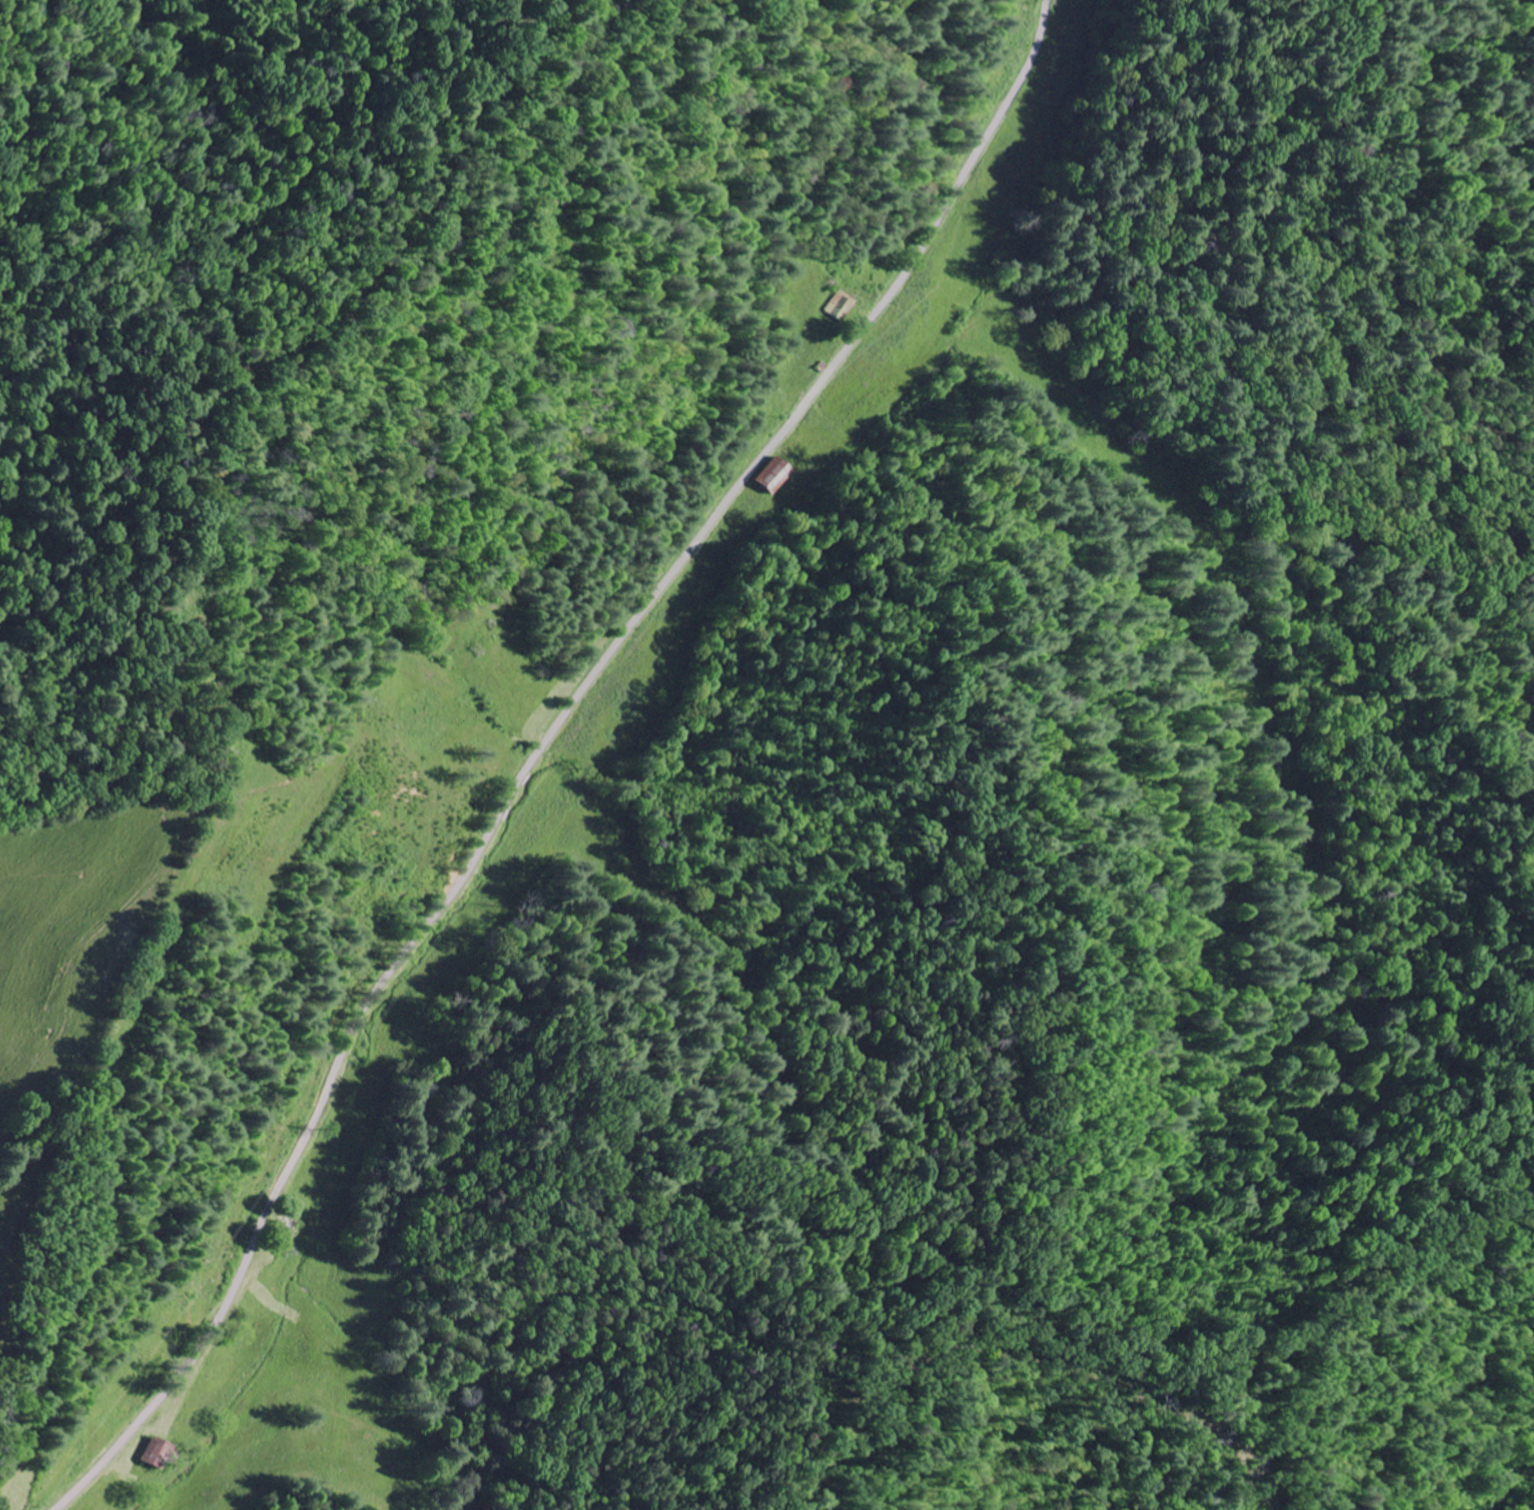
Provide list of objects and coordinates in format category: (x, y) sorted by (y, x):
building: (771, 477)
road: (540, 746)
road: (1421, 1198)
road: (1013, 1323)
road: (1278, 1392)
building: (153, 1453)

